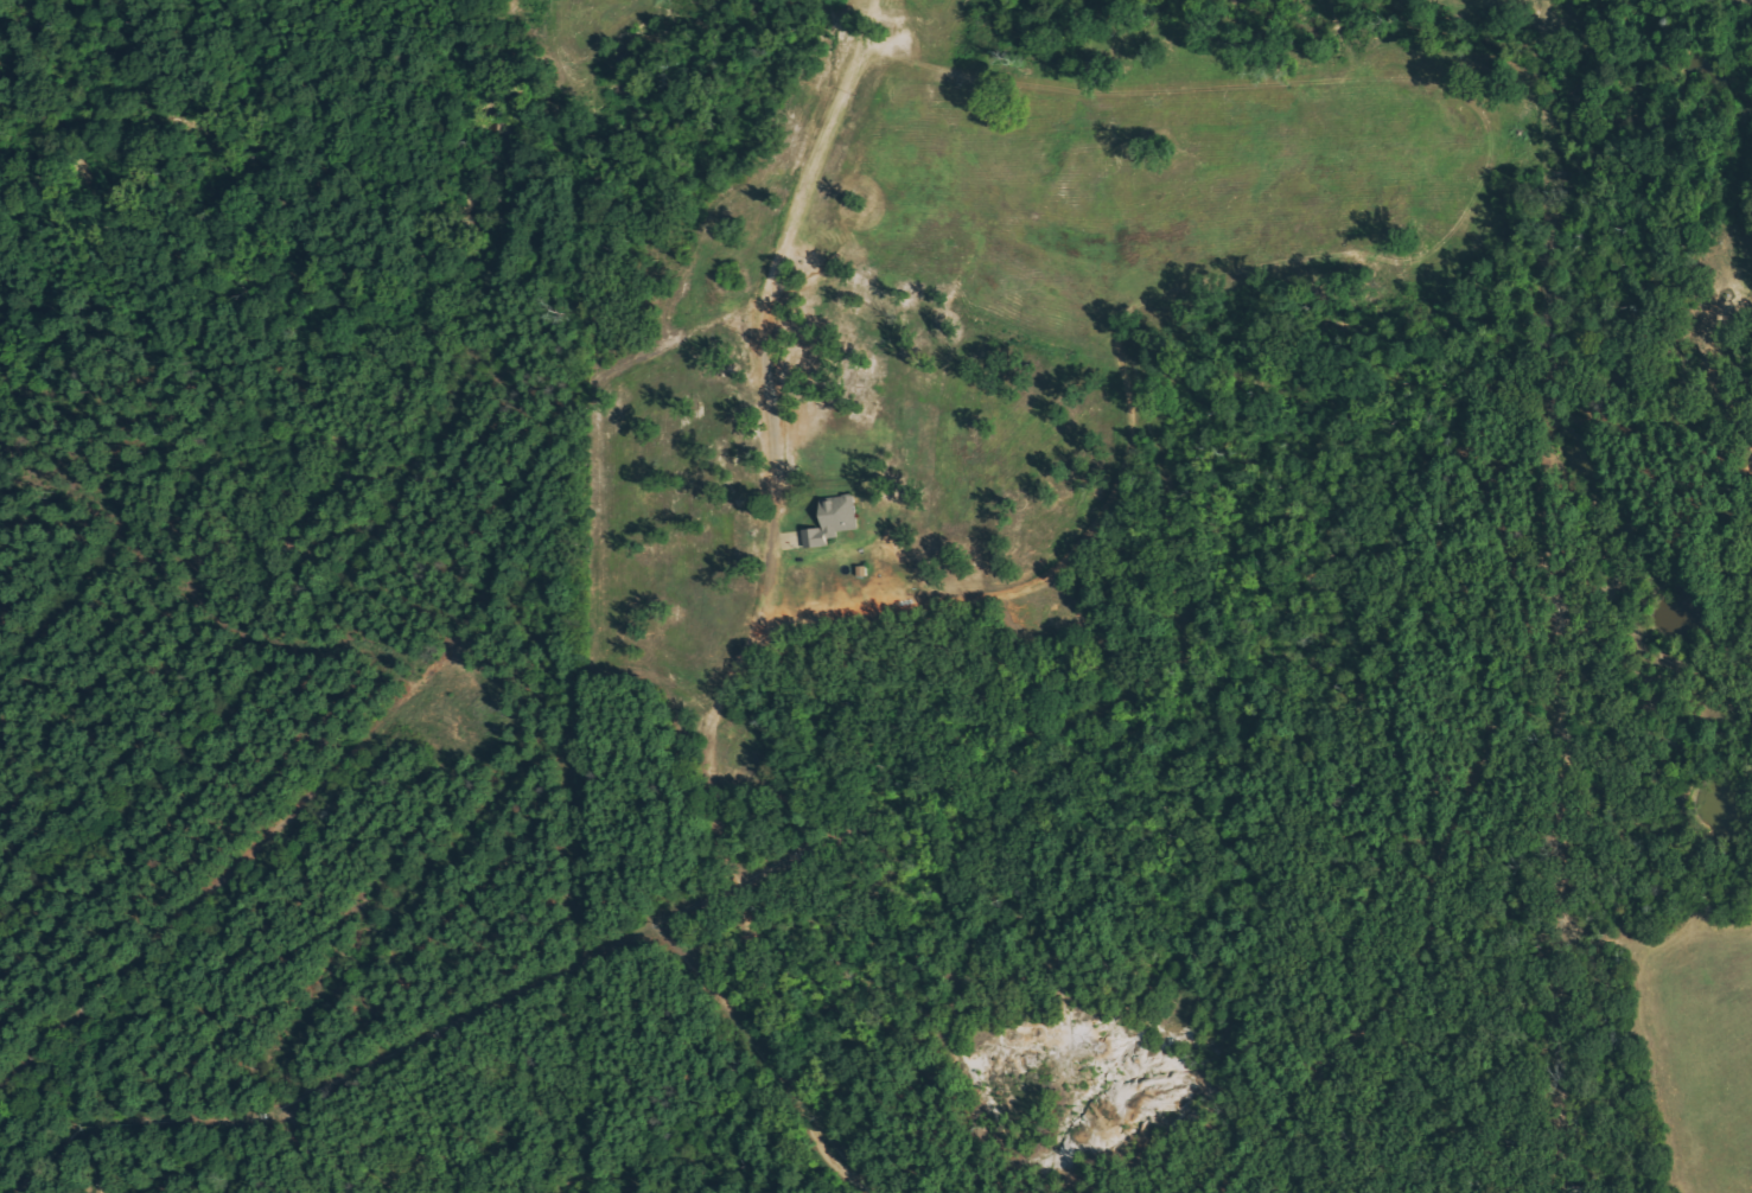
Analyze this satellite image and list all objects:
building: (830, 521)
road: (790, 1128)

